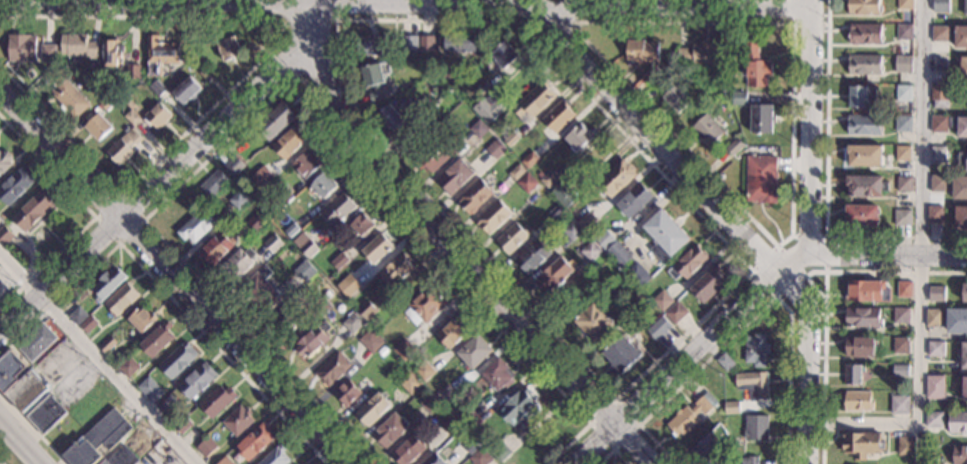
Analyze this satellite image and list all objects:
road: (318, 4)
building: (905, 4)
building: (940, 6)
building: (864, 7)
building: (965, 7)
road: (405, 8)
road: (448, 20)
road: (547, 22)
road: (648, 22)
road: (799, 23)
road: (303, 25)
building: (904, 32)
building: (940, 33)
building: (865, 34)
building: (960, 37)
building: (426, 42)
building: (410, 43)
building: (459, 43)
building: (373, 45)
building: (78, 46)
building: (229, 48)
building: (29, 49)
building: (642, 51)
building: (698, 53)
building: (111, 54)
building: (160, 54)
building: (503, 55)
building: (903, 63)
building: (940, 63)
building: (755, 64)
building: (865, 64)
road: (281, 67)
building: (964, 67)
building: (133, 72)
building: (652, 74)
building: (207, 75)
building: (668, 76)
road: (246, 77)
building: (375, 82)
building: (121, 85)
road: (285, 85)
building: (483, 87)
building: (157, 88)
building: (187, 90)
building: (66, 92)
building: (903, 93)
building: (861, 96)
building: (939, 97)
building: (739, 98)
building: (676, 99)
building: (108, 101)
building: (534, 101)
building: (452, 107)
building: (488, 108)
building: (416, 112)
building: (158, 115)
building: (558, 116)
building: (389, 117)
building: (132, 118)
building: (761, 118)
building: (275, 119)
building: (903, 124)
building: (948, 124)
road: (808, 125)
building: (864, 125)
building: (98, 127)
building: (126, 129)
building: (478, 129)
building: (707, 130)
building: (579, 137)
building: (511, 139)
road: (657, 140)
building: (290, 143)
building: (124, 147)
building: (734, 147)
building: (495, 149)
building: (903, 153)
building: (937, 153)
building: (436, 154)
building: (865, 155)
building: (530, 160)
building: (5, 161)
building: (306, 164)
building: (234, 165)
building: (966, 165)
building: (517, 172)
road: (164, 177)
building: (455, 177)
building: (263, 178)
building: (547, 178)
building: (615, 179)
building: (761, 179)
building: (214, 183)
building: (527, 183)
building: (938, 183)
building: (903, 184)
building: (323, 185)
building: (15, 186)
building: (866, 186)
building: (960, 188)
road: (825, 189)
building: (563, 193)
building: (474, 196)
building: (284, 199)
building: (239, 200)
building: (634, 200)
building: (33, 210)
building: (338, 211)
building: (555, 213)
road: (93, 214)
building: (934, 214)
building: (861, 216)
building: (493, 217)
building: (902, 217)
building: (961, 218)
building: (586, 219)
road: (142, 220)
building: (254, 224)
building: (362, 225)
building: (197, 226)
building: (290, 230)
building: (572, 231)
building: (5, 235)
building: (664, 235)
road: (824, 236)
building: (511, 238)
building: (273, 244)
building: (219, 246)
building: (309, 248)
building: (377, 249)
road: (455, 251)
building: (590, 251)
building: (618, 253)
road: (886, 253)
building: (532, 256)
building: (339, 261)
building: (687, 263)
building: (237, 266)
road: (751, 268)
building: (396, 269)
road: (920, 269)
building: (308, 273)
building: (638, 274)
road: (173, 275)
building: (553, 275)
road: (806, 278)
building: (352, 282)
building: (708, 282)
building: (108, 284)
building: (258, 289)
building: (904, 290)
building: (865, 292)
building: (965, 292)
road: (166, 294)
building: (936, 294)
road: (824, 296)
building: (121, 300)
building: (662, 301)
building: (638, 302)
building: (425, 304)
building: (320, 306)
building: (366, 309)
building: (675, 312)
building: (77, 315)
building: (900, 316)
building: (285, 318)
building: (863, 318)
building: (933, 318)
building: (142, 319)
road: (750, 319)
building: (956, 321)
building: (593, 322)
building: (353, 323)
building: (89, 324)
building: (658, 328)
building: (454, 332)
building: (158, 340)
building: (312, 341)
building: (35, 342)
building: (371, 342)
building: (107, 344)
building: (901, 345)
building: (859, 346)
building: (755, 349)
building: (935, 349)
building: (404, 350)
building: (382, 351)
building: (475, 352)
building: (621, 354)
road: (686, 354)
building: (962, 355)
road: (97, 360)
building: (178, 360)
building: (724, 361)
road: (805, 361)
building: (128, 367)
building: (332, 369)
building: (900, 371)
building: (424, 372)
building: (852, 374)
building: (499, 375)
building: (197, 381)
building: (19, 382)
building: (409, 382)
building: (935, 383)
building: (753, 385)
building: (964, 387)
building: (150, 390)
building: (346, 393)
building: (446, 395)
road: (615, 398)
building: (927, 398)
building: (217, 400)
building: (856, 401)
building: (430, 404)
building: (901, 404)
building: (166, 407)
building: (518, 407)
building: (730, 407)
building: (372, 409)
building: (46, 414)
building: (691, 415)
building: (469, 418)
building: (934, 419)
building: (238, 420)
building: (957, 423)
building: (449, 424)
building: (183, 425)
road: (33, 427)
building: (522, 428)
building: (755, 428)
building: (390, 431)
building: (98, 439)
road: (20, 441)
building: (254, 442)
building: (862, 444)
building: (471, 446)
building: (206, 447)
building: (906, 447)
road: (612, 449)
building: (705, 449)
building: (408, 451)
building: (500, 452)
building: (959, 455)
building: (276, 456)
building: (120, 457)
building: (479, 457)
building: (432, 459)
building: (749, 460)
building: (225, 461)
building: (298, 463)
building: (727, 463)
building: (931, 463)

